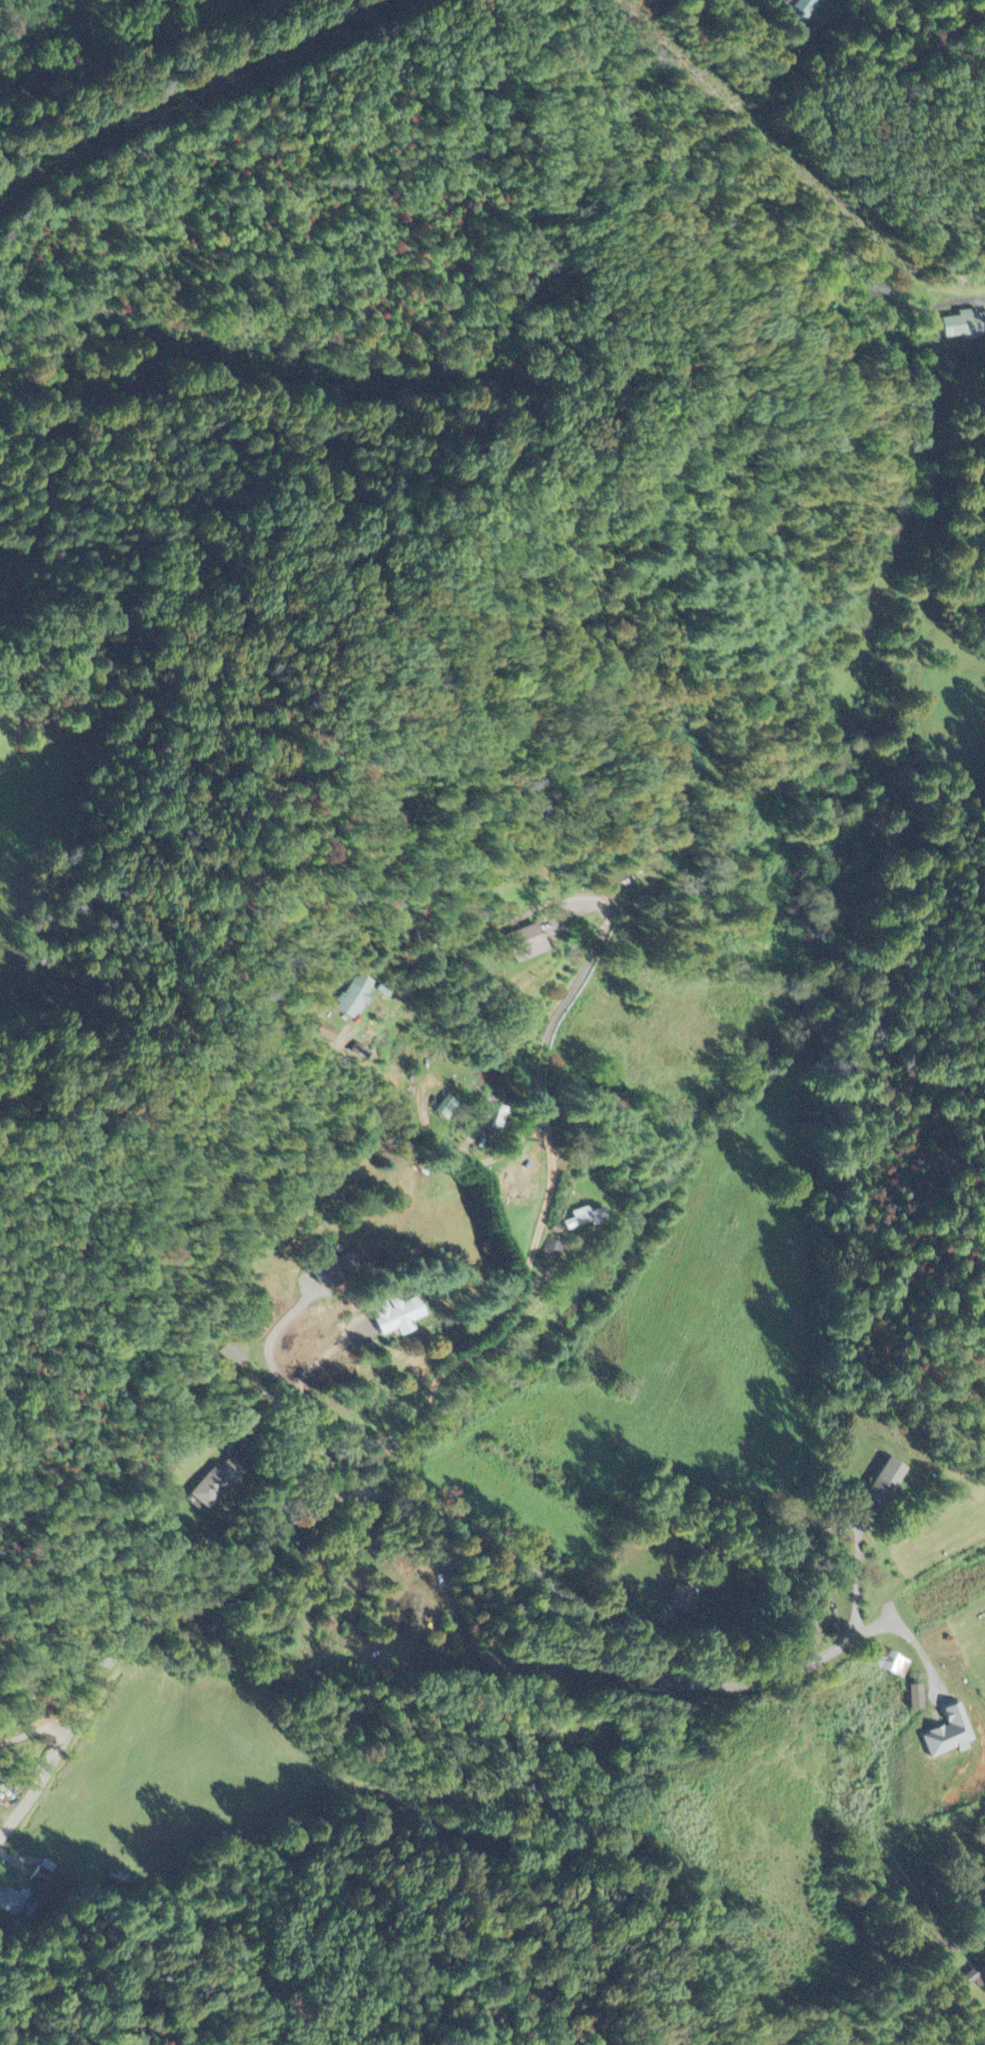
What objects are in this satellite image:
building: (963, 327)
building: (524, 944)
building: (356, 998)
building: (330, 1034)
building: (446, 1108)
building: (584, 1219)
building: (553, 1251)
road: (533, 1254)
building: (335, 1271)
building: (397, 1316)
building: (236, 1355)
building: (885, 1483)
building: (215, 1484)
road: (444, 1509)
road: (848, 1579)
building: (681, 1600)
building: (893, 1666)
building: (914, 1698)
building: (948, 1734)
building: (42, 1874)
building: (14, 1903)
building: (973, 1979)

